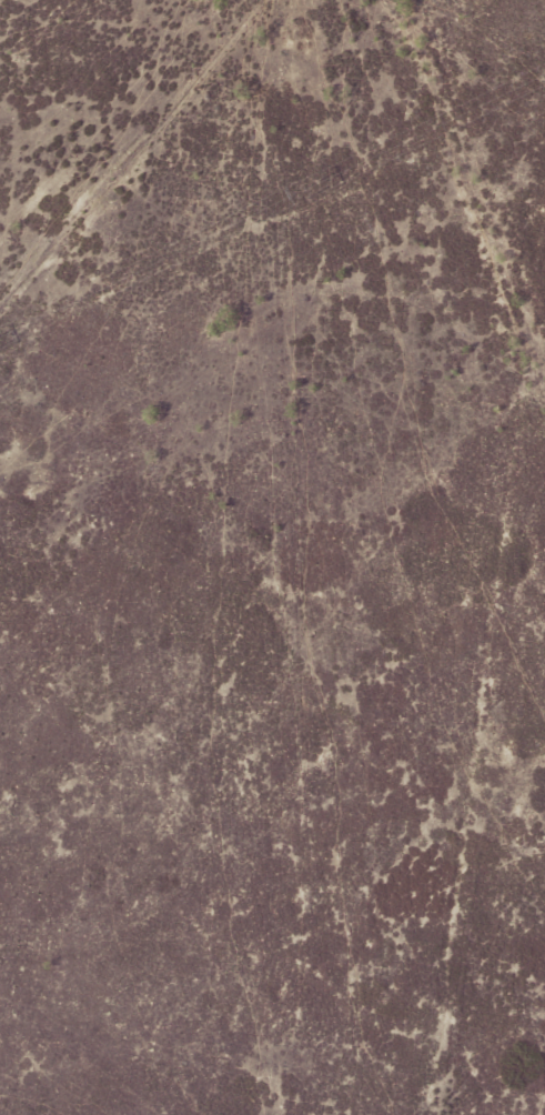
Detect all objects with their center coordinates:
power tower: (307, 190)

